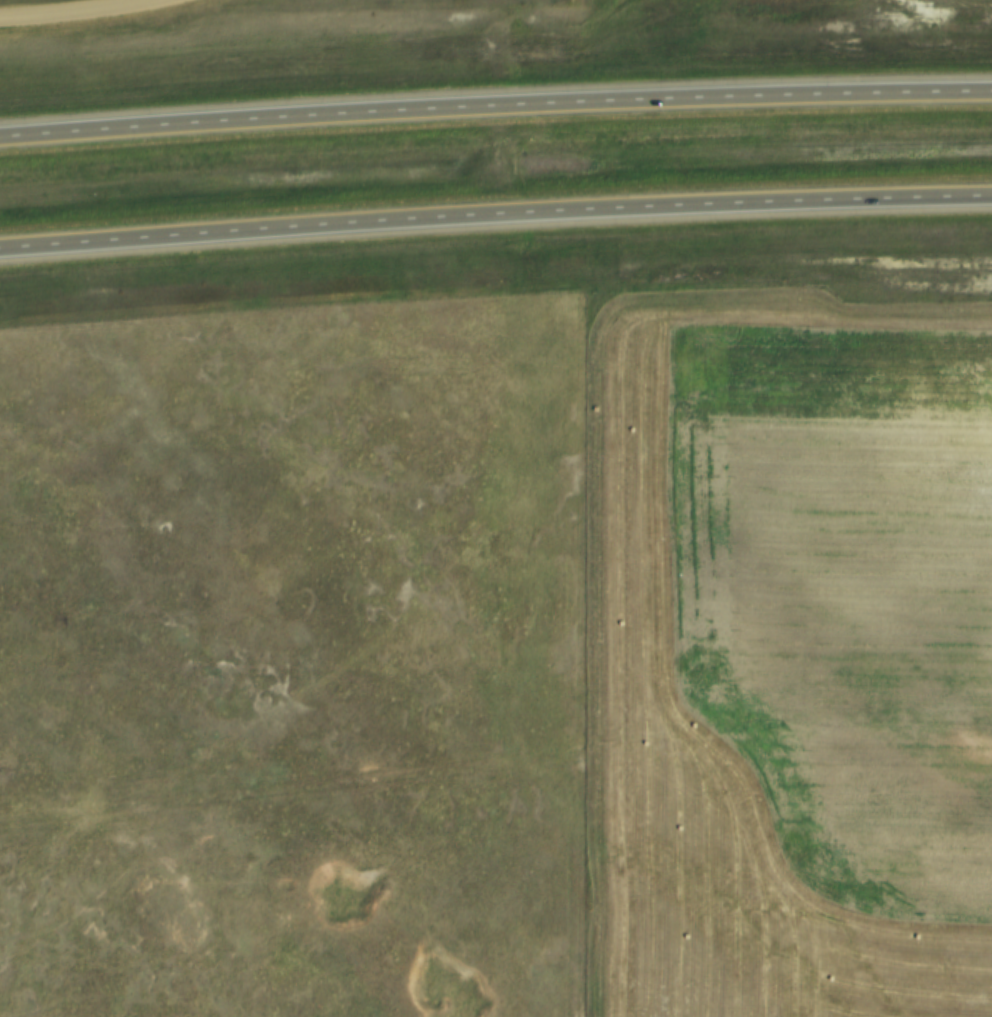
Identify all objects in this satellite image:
road: (85, 13)
road: (495, 107)
road: (495, 218)
road: (612, 667)

